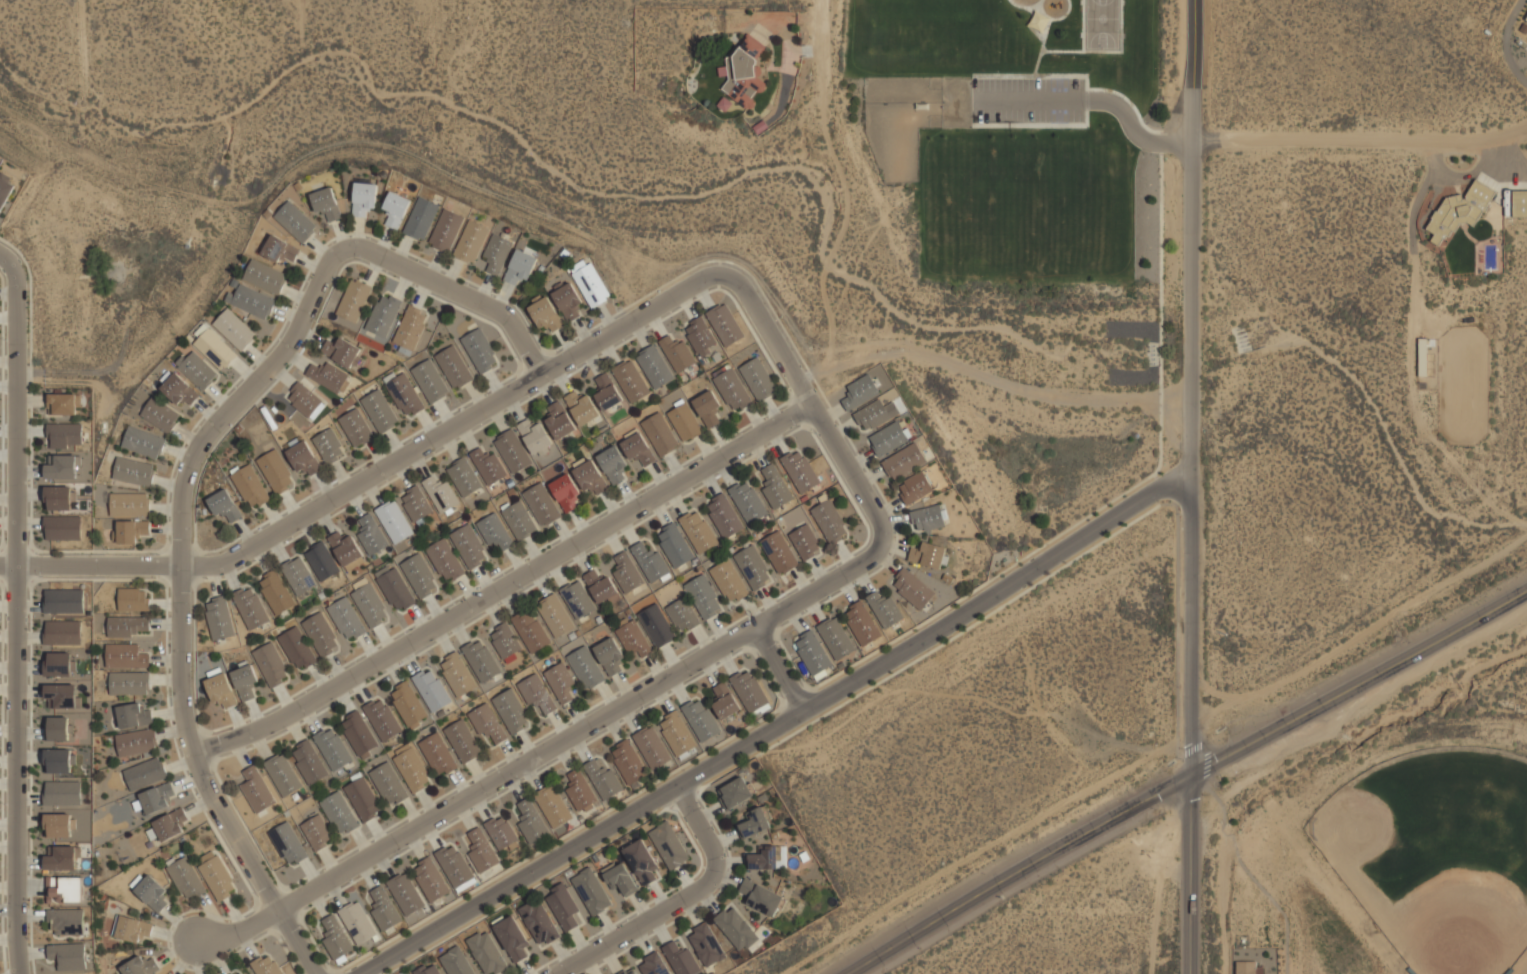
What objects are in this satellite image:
building: (1526, 19)
road: (825, 46)
building: (743, 72)
road: (1362, 135)
park: (1017, 150)
building: (5, 189)
building: (363, 198)
building: (1519, 203)
building: (325, 204)
building: (395, 209)
building: (1459, 210)
building: (420, 218)
building: (294, 221)
building: (445, 230)
building: (470, 242)
building: (279, 249)
building: (496, 254)
building: (519, 267)
building: (263, 276)
building: (589, 283)
building: (353, 300)
building: (566, 300)
building: (250, 301)
building: (544, 313)
building: (382, 315)
building: (726, 325)
building: (411, 327)
building: (234, 330)
building: (701, 336)
building: (216, 349)
building: (480, 351)
building: (343, 352)
building: (678, 354)
building: (1423, 358)
building: (454, 367)
building: (655, 367)
building: (197, 369)
building: (329, 377)
building: (758, 379)
building: (631, 380)
building: (430, 381)
road: (1196, 386)
building: (179, 390)
building: (732, 390)
building: (608, 392)
building: (860, 392)
building: (404, 393)
road: (809, 396)
building: (303, 399)
building: (65, 404)
building: (582, 408)
building: (707, 408)
building: (380, 411)
building: (160, 415)
building: (875, 415)
building: (560, 421)
building: (685, 422)
building: (356, 428)
building: (660, 434)
building: (64, 436)
building: (536, 437)
building: (889, 439)
building: (143, 443)
building: (329, 446)
building: (638, 449)
building: (512, 451)
building: (303, 458)
building: (904, 462)
building: (613, 464)
building: (488, 466)
building: (61, 468)
building: (801, 470)
building: (134, 472)
building: (277, 472)
building: (464, 477)
building: (590, 478)
road: (190, 481)
building: (251, 487)
building: (775, 487)
building: (915, 488)
building: (566, 493)
building: (441, 494)
building: (58, 497)
building: (748, 501)
building: (416, 503)
building: (130, 505)
building: (224, 505)
building: (541, 505)
building: (724, 516)
building: (928, 519)
building: (519, 520)
building: (394, 521)
building: (831, 521)
building: (62, 528)
building: (698, 530)
building: (131, 531)
building: (495, 532)
building: (371, 534)
building: (806, 542)
building: (675, 545)
building: (469, 547)
building: (345, 549)
building: (779, 553)
building: (929, 555)
building: (445, 560)
building: (322, 562)
building: (651, 562)
building: (754, 567)
building: (627, 573)
building: (299, 576)
building: (420, 576)
building: (729, 581)
road: (508, 586)
building: (601, 588)
building: (395, 589)
building: (913, 589)
building: (276, 592)
building: (704, 597)
building: (577, 599)
building: (134, 600)
building: (63, 601)
building: (370, 605)
building: (251, 607)
road: (21, 610)
building: (885, 610)
building: (683, 615)
building: (554, 616)
building: (220, 618)
building: (347, 620)
building: (862, 624)
building: (127, 626)
building: (657, 626)
building: (530, 630)
building: (61, 633)
building: (321, 635)
building: (632, 637)
building: (837, 638)
building: (504, 640)
building: (297, 649)
building: (609, 655)
building: (814, 655)
building: (125, 656)
building: (481, 660)
building: (59, 664)
building: (271, 665)
building: (586, 668)
road: (780, 668)
building: (458, 675)
building: (245, 681)
building: (129, 683)
building: (562, 683)
building: (221, 689)
building: (432, 690)
building: (750, 691)
building: (537, 693)
building: (61, 695)
building: (725, 702)
building: (408, 704)
building: (512, 711)
building: (135, 715)
building: (383, 719)
building: (701, 719)
building: (487, 723)
road: (787, 725)
building: (57, 729)
building: (359, 733)
building: (678, 733)
building: (463, 741)
building: (137, 743)
building: (652, 747)
building: (333, 748)
building: (439, 755)
building: (57, 761)
building: (310, 762)
building: (629, 762)
building: (412, 768)
building: (145, 774)
building: (283, 775)
road: (1193, 777)
building: (603, 780)
building: (389, 784)
building: (258, 791)
building: (581, 792)
building: (62, 793)
building: (734, 793)
building: (157, 798)
building: (363, 799)
building: (554, 806)
building: (340, 814)
building: (756, 821)
building: (531, 822)
building: (57, 825)
building: (166, 828)
building: (501, 831)
building: (317, 832)
building: (288, 844)
building: (670, 845)
building: (481, 850)
park: (1436, 855)
building: (768, 857)
building: (62, 858)
building: (643, 863)
building: (456, 867)
road: (1198, 873)
building: (185, 878)
building: (218, 879)
building: (430, 879)
building: (621, 880)
building: (65, 890)
building: (592, 891)
building: (151, 892)
building: (406, 894)
building: (761, 897)
road: (683, 902)
building: (565, 908)
building: (384, 909)
building: (66, 922)
building: (358, 923)
building: (539, 923)
building: (132, 929)
building: (735, 929)
building: (512, 938)
building: (337, 939)
building: (705, 944)
building: (488, 952)
building: (68, 956)
building: (680, 958)
building: (456, 962)
building: (266, 965)
building: (653, 965)
building: (139, 966)
building: (1246, 968)
building: (428, 969)
building: (239, 972)
building: (630, 972)

